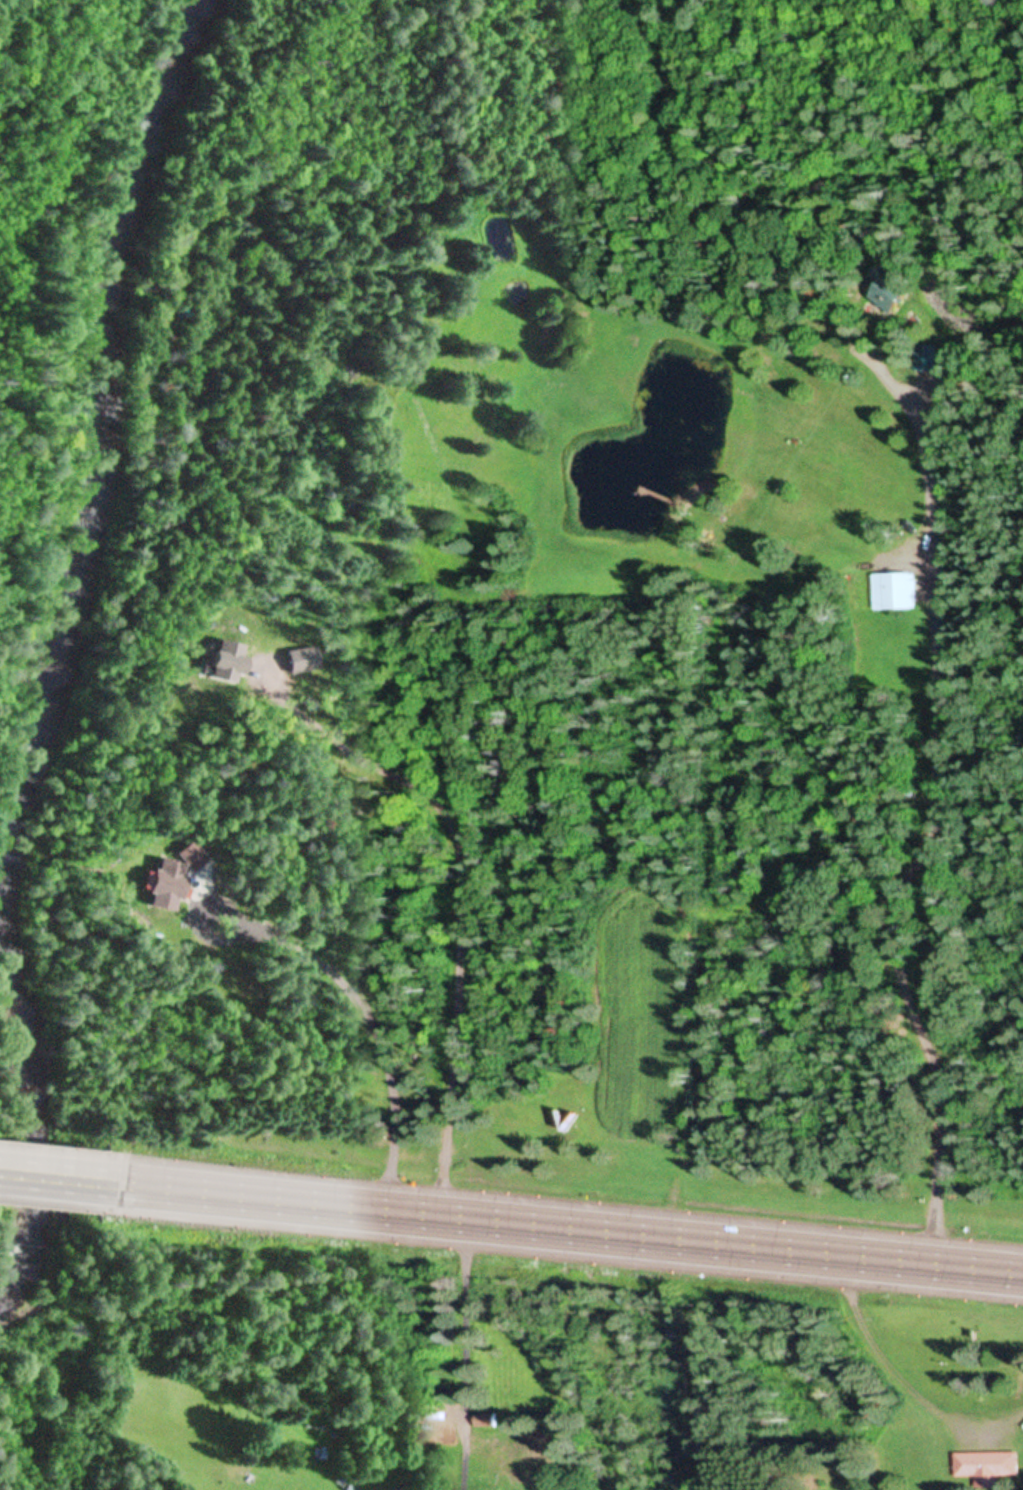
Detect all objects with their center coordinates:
river: (817, 163)
building: (887, 287)
building: (894, 589)
river: (67, 624)
road: (927, 809)
building: (168, 884)
road: (364, 1011)
road: (62, 1175)
road: (573, 1228)
river: (11, 1274)
building: (485, 1417)
building: (984, 1465)

